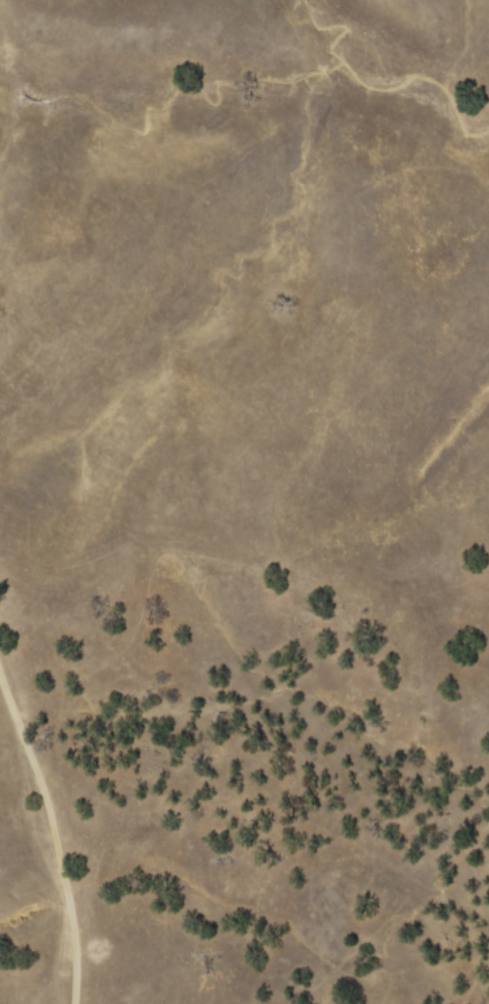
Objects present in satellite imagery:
road: (54, 837)

